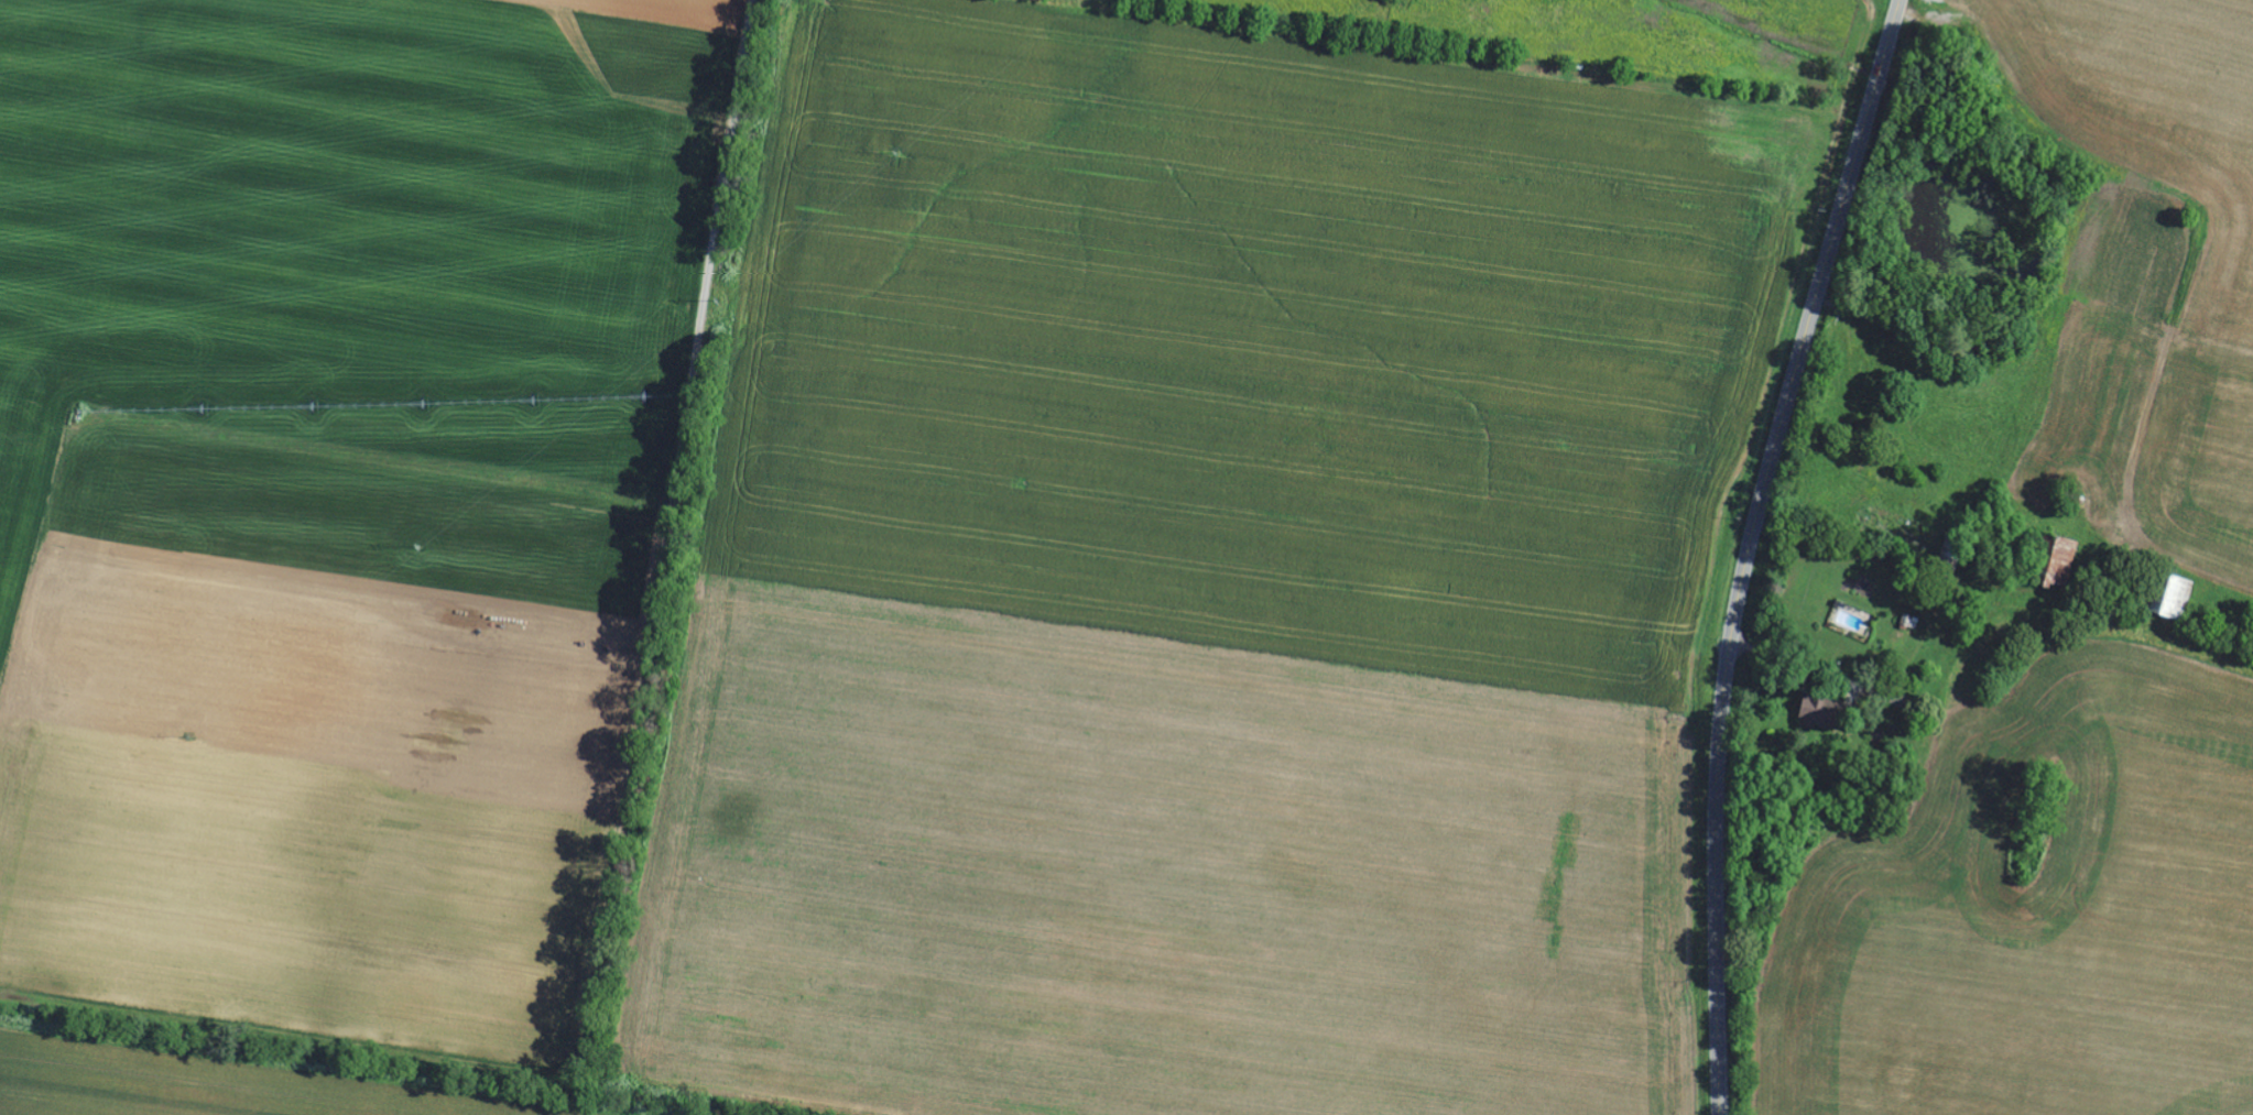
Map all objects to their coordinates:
road: (1749, 548)
building: (2053, 562)
building: (2169, 598)
building: (1809, 712)

